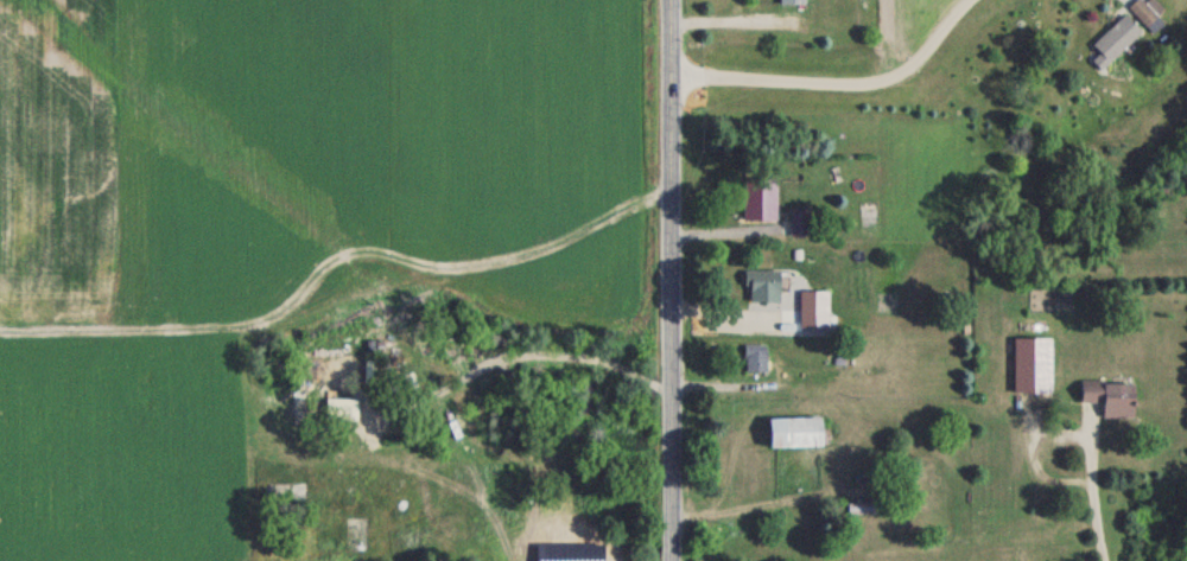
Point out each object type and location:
building: (794, 2)
building: (1148, 11)
building: (1117, 42)
road: (837, 84)
building: (762, 199)
road: (674, 280)
building: (764, 282)
building: (758, 356)
building: (1035, 365)
building: (1113, 397)
building: (798, 433)
road: (1096, 504)
building: (877, 508)
building: (573, 552)

